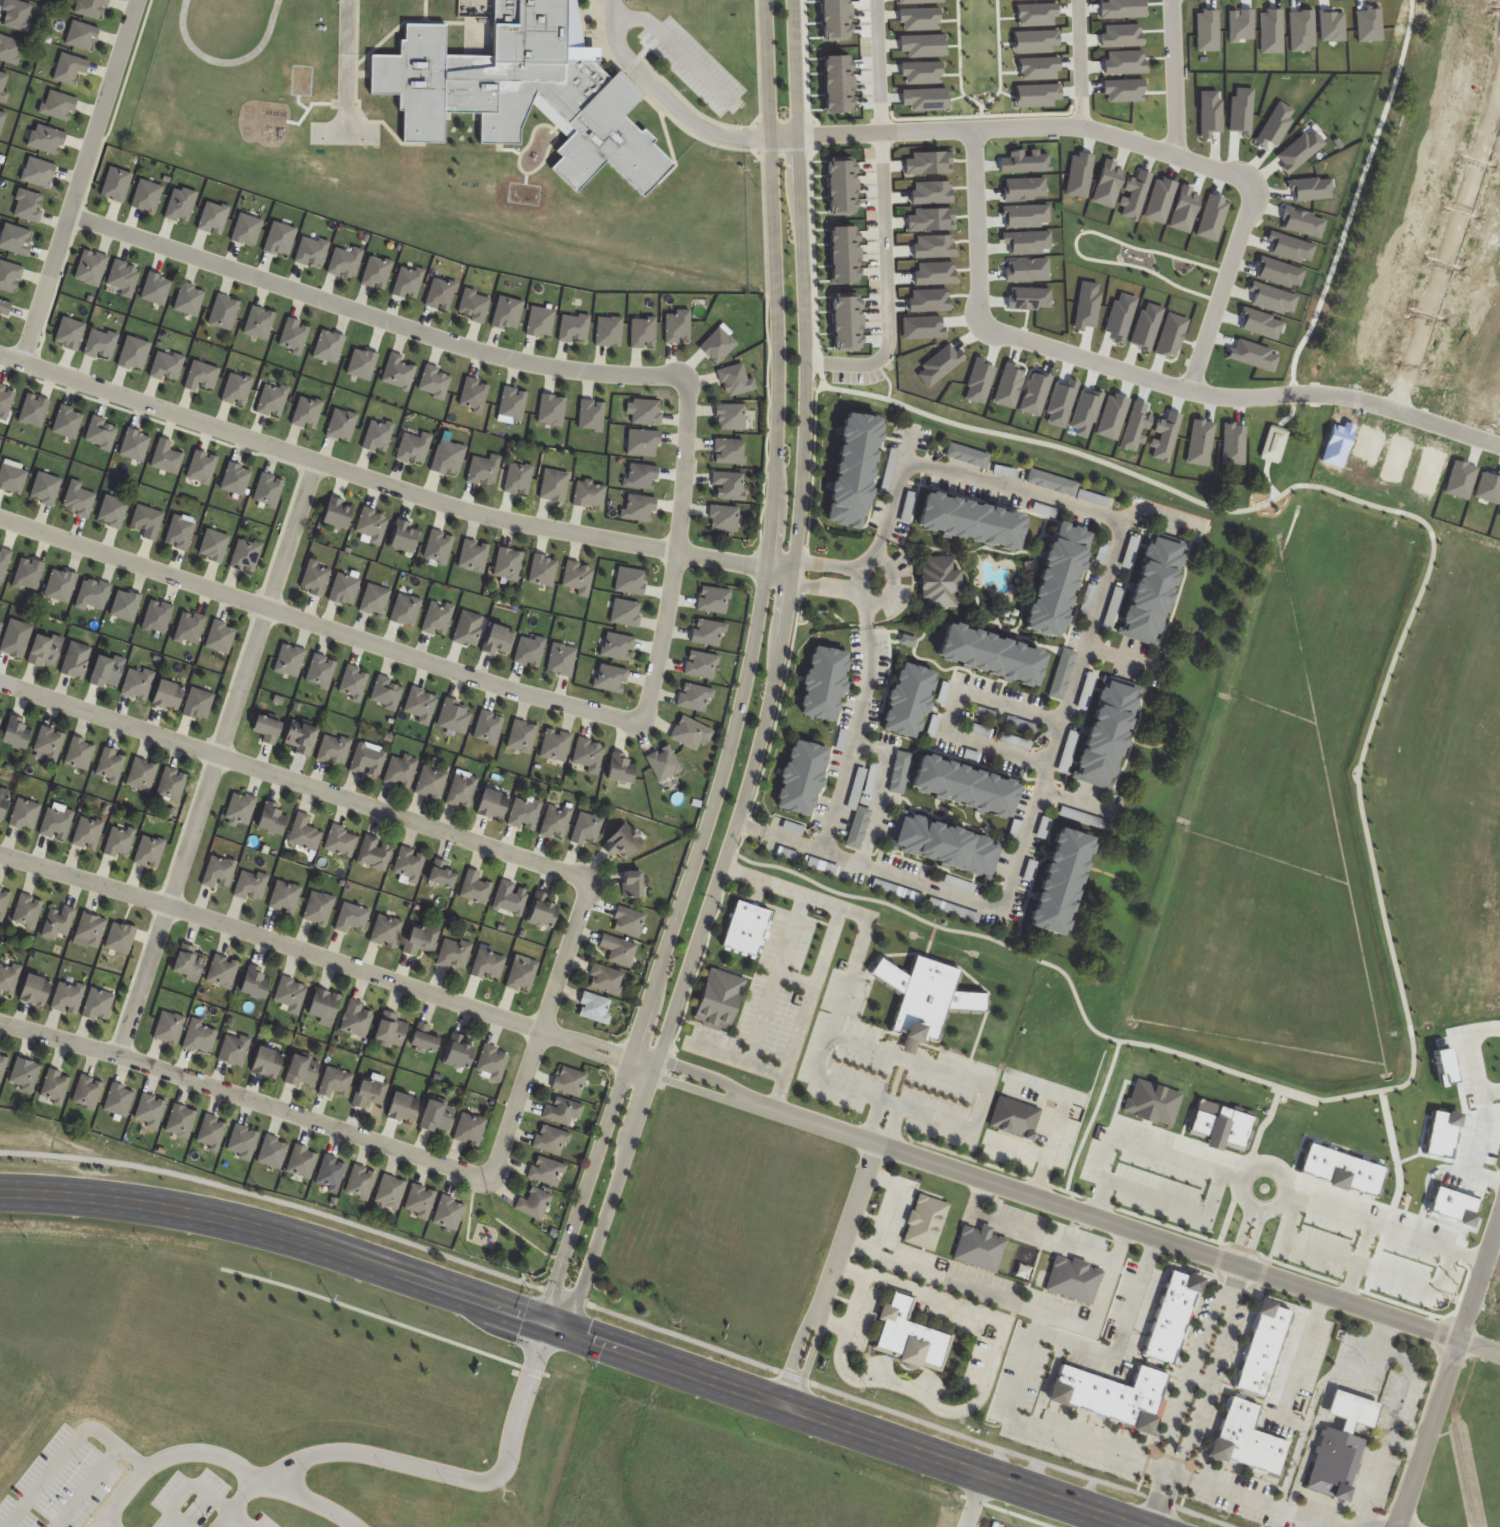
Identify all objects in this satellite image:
road: (676, 48)
road: (1078, 63)
road: (878, 66)
road: (1172, 77)
building: (523, 91)
road: (664, 99)
road: (1030, 127)
road: (784, 136)
road: (80, 180)
road: (974, 225)
road: (1450, 241)
road: (884, 283)
road: (1219, 291)
road: (373, 315)
road: (1081, 359)
road: (1346, 398)
building: (307, 412)
building: (342, 425)
building: (378, 436)
building: (414, 448)
building: (968, 455)
building: (449, 458)
building: (484, 470)
building: (851, 470)
building: (643, 476)
building: (518, 478)
building: (1052, 482)
road: (390, 484)
building: (554, 485)
building: (590, 494)
building: (640, 508)
building: (109, 509)
road: (1152, 511)
building: (336, 513)
building: (144, 519)
building: (966, 521)
building: (372, 525)
building: (176, 531)
building: (210, 544)
building: (439, 547)
road: (682, 549)
building: (242, 553)
building: (474, 556)
building: (508, 564)
building: (543, 570)
building: (579, 577)
building: (316, 578)
road: (857, 579)
building: (1053, 581)
building: (57, 583)
road: (890, 583)
building: (937, 583)
building: (1149, 589)
building: (89, 593)
building: (375, 600)
building: (714, 600)
building: (122, 603)
building: (406, 610)
building: (626, 613)
building: (153, 615)
building: (438, 618)
road: (320, 624)
building: (186, 627)
building: (468, 628)
building: (709, 632)
building: (216, 635)
building: (498, 640)
building: (619, 646)
building: (43, 650)
building: (529, 651)
building: (987, 655)
road: (1115, 657)
building: (72, 659)
building: (290, 660)
building: (103, 670)
road: (750, 674)
road: (776, 679)
building: (134, 682)
road: (1071, 682)
building: (354, 683)
building: (824, 684)
building: (164, 694)
building: (907, 701)
building: (194, 702)
building: (421, 705)
road: (952, 711)
building: (455, 716)
road: (857, 716)
building: (266, 728)
building: (488, 728)
building: (15, 732)
building: (1105, 732)
building: (522, 736)
building: (301, 738)
building: (48, 744)
building: (556, 745)
building: (334, 750)
building: (79, 754)
building: (588, 755)
road: (216, 757)
building: (368, 761)
building: (664, 763)
building: (110, 765)
building: (622, 768)
building: (401, 771)
building: (900, 772)
building: (141, 775)
building: (801, 778)
building: (872, 779)
road: (294, 781)
building: (431, 782)
building: (172, 785)
building: (961, 787)
building: (463, 790)
road: (876, 792)
road: (1073, 802)
building: (492, 803)
building: (2, 804)
building: (240, 808)
building: (24, 814)
building: (525, 814)
building: (272, 818)
building: (556, 821)
building: (56, 823)
building: (859, 827)
building: (587, 829)
building: (87, 833)
building: (304, 833)
building: (341, 841)
building: (623, 841)
building: (119, 842)
building: (945, 846)
road: (1368, 846)
building: (149, 852)
building: (375, 853)
building: (410, 865)
building: (823, 865)
building: (219, 872)
building: (441, 873)
building: (1056, 882)
building: (632, 884)
building: (251, 885)
building: (476, 888)
building: (285, 896)
building: (511, 898)
building: (4, 901)
building: (319, 908)
building: (542, 909)
building: (26, 911)
building: (352, 918)
building: (57, 922)
building: (628, 922)
building: (89, 929)
building: (386, 931)
building: (120, 938)
building: (420, 940)
building: (618, 949)
building: (455, 953)
building: (186, 962)
building: (488, 965)
building: (221, 971)
building: (522, 973)
building: (8, 978)
building: (606, 979)
building: (254, 982)
building: (32, 989)
building: (291, 994)
road: (766, 995)
building: (67, 997)
building: (935, 999)
building: (97, 1005)
building: (322, 1006)
road: (804, 1006)
building: (595, 1007)
building: (356, 1019)
building: (168, 1027)
building: (389, 1030)
road: (542, 1031)
building: (200, 1037)
building: (422, 1042)
building: (234, 1049)
building: (458, 1051)
building: (265, 1062)
building: (492, 1062)
building: (3, 1064)
building: (301, 1071)
building: (24, 1075)
building: (570, 1081)
building: (335, 1082)
building: (54, 1086)
road: (841, 1086)
building: (86, 1092)
building: (369, 1092)
road: (246, 1099)
road: (751, 1099)
building: (118, 1101)
building: (401, 1107)
building: (149, 1111)
building: (563, 1111)
building: (436, 1116)
road: (871, 1118)
building: (180, 1121)
road: (890, 1125)
building: (470, 1129)
building: (211, 1132)
building: (552, 1140)
road: (1139, 1144)
road: (1037, 1151)
building: (302, 1161)
building: (547, 1171)
building: (331, 1173)
road: (1278, 1173)
building: (361, 1182)
building: (390, 1191)
road: (974, 1198)
building: (420, 1201)
building: (535, 1203)
road: (887, 1205)
building: (449, 1212)
road: (1254, 1212)
building: (925, 1222)
road: (1391, 1228)
road: (847, 1230)
road: (1237, 1235)
road: (1046, 1238)
road: (1251, 1240)
road: (1310, 1247)
building: (980, 1248)
road: (1483, 1261)
road: (941, 1276)
building: (1075, 1280)
road: (853, 1302)
road: (624, 1315)
traffic signals: (544, 1319)
building: (1180, 1319)
traffic signals: (572, 1329)
road: (581, 1332)
road: (1124, 1335)
building: (909, 1337)
building: (1272, 1349)
road: (791, 1356)
road: (1298, 1357)
road: (806, 1361)
road: (1192, 1364)
road: (1210, 1371)
road: (982, 1384)
building: (1122, 1397)
road: (1393, 1415)
road: (1435, 1419)
road: (1040, 1429)
building: (1256, 1441)
road: (1405, 1446)
building: (1338, 1447)
road: (166, 1453)
road: (421, 1468)
road: (92, 1475)
road: (182, 1486)
road: (305, 1498)
road: (1149, 1498)
road: (972, 1499)
road: (1167, 1504)
road: (236, 1519)
road: (101, 1520)
road: (1374, 1523)

